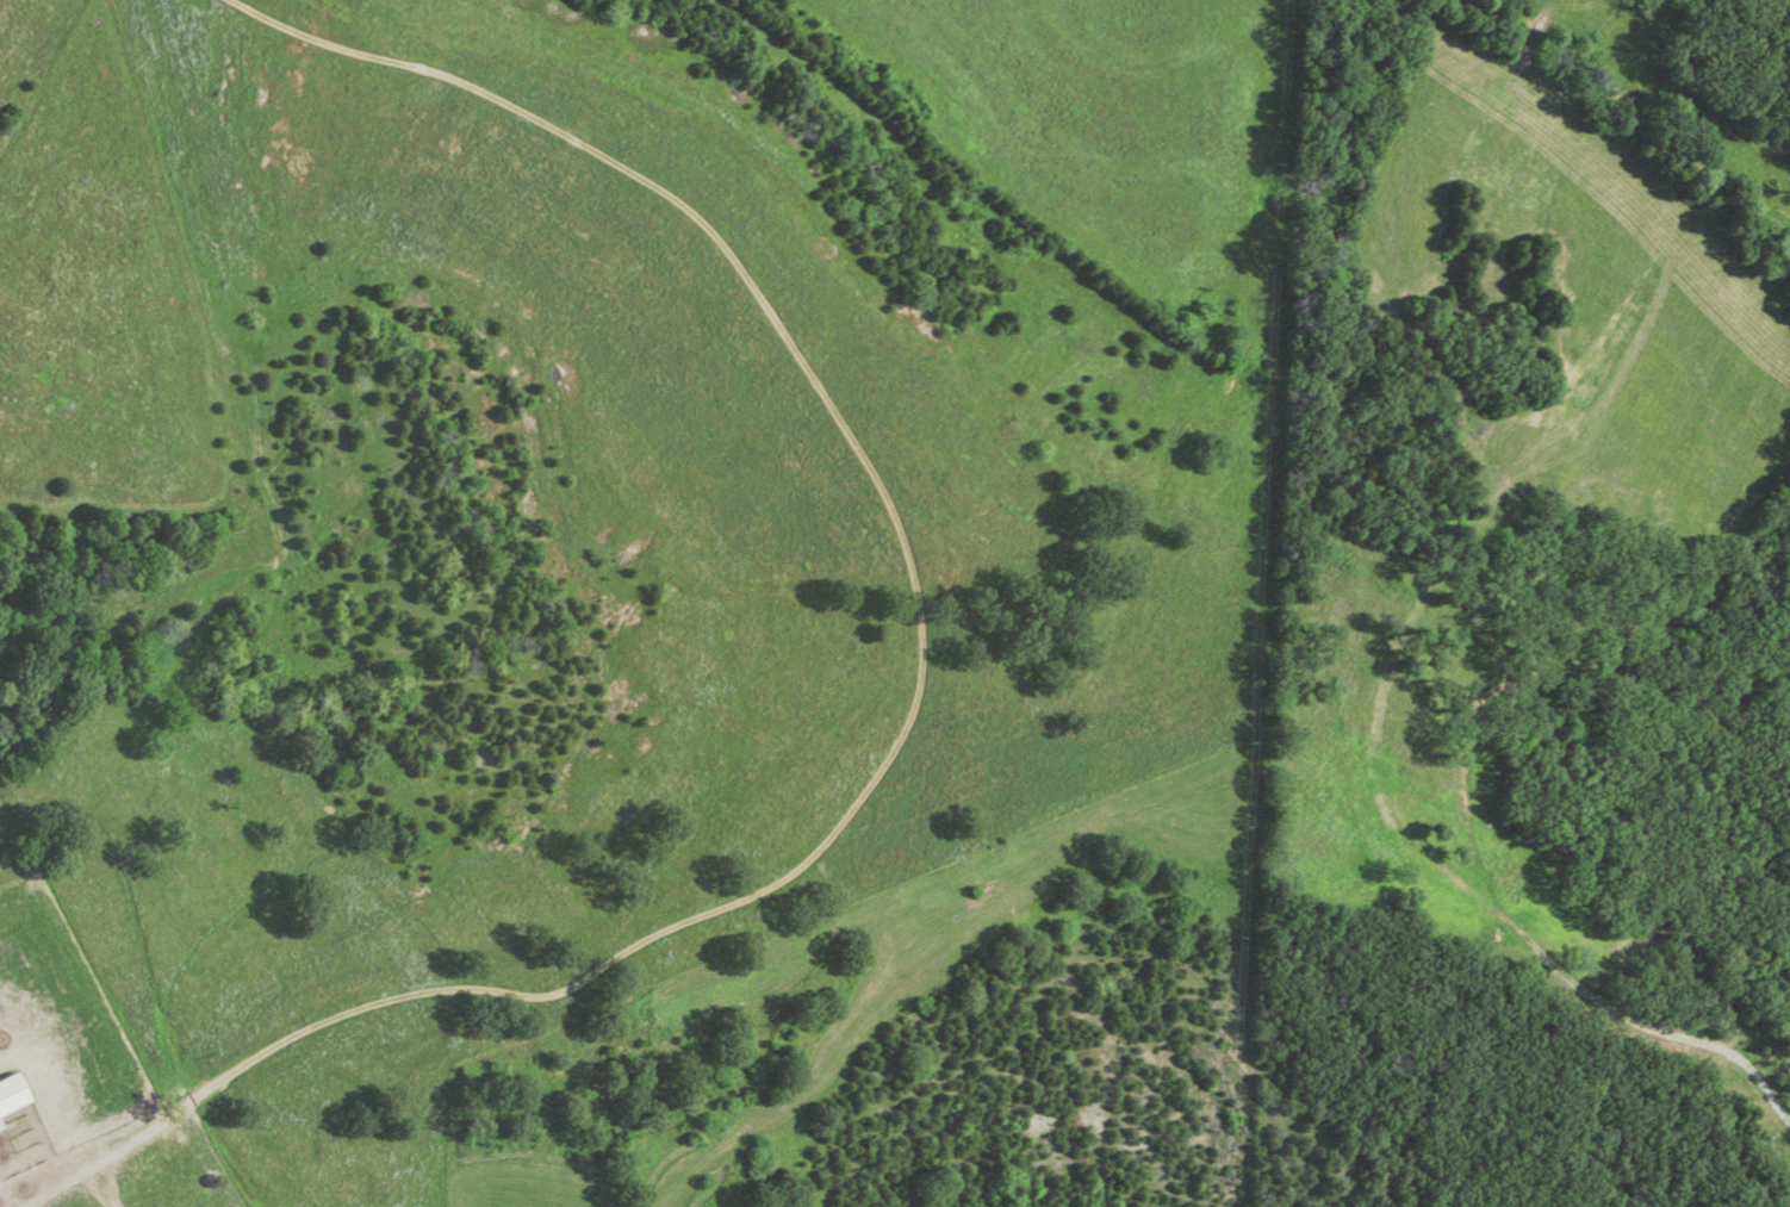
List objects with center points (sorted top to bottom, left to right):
road: (921, 707)
road: (138, 927)
building: (11, 1095)

